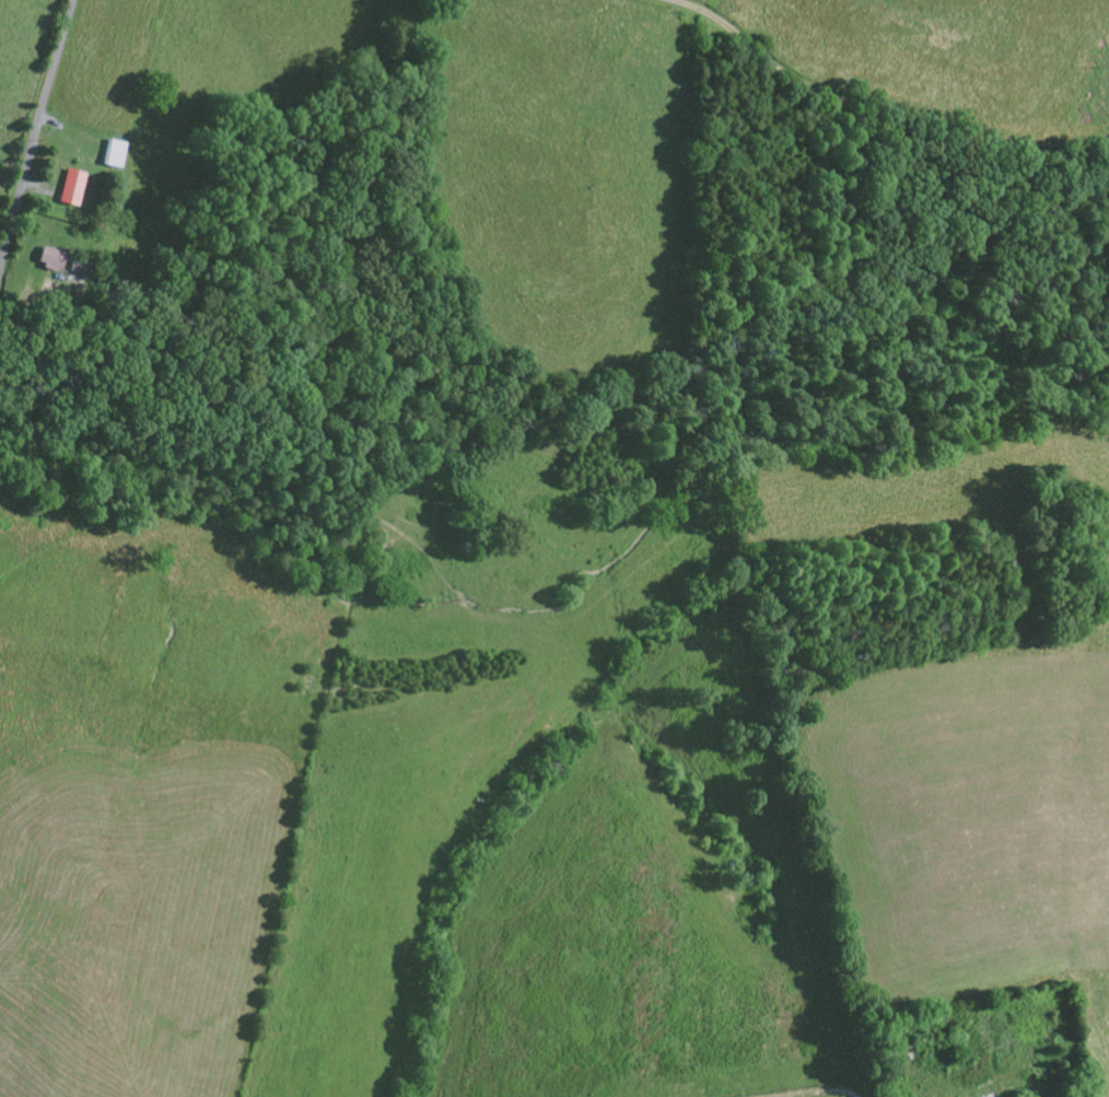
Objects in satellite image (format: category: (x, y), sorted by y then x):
road: (879, 107)
road: (36, 131)
building: (113, 155)
building: (71, 190)
building: (50, 261)

